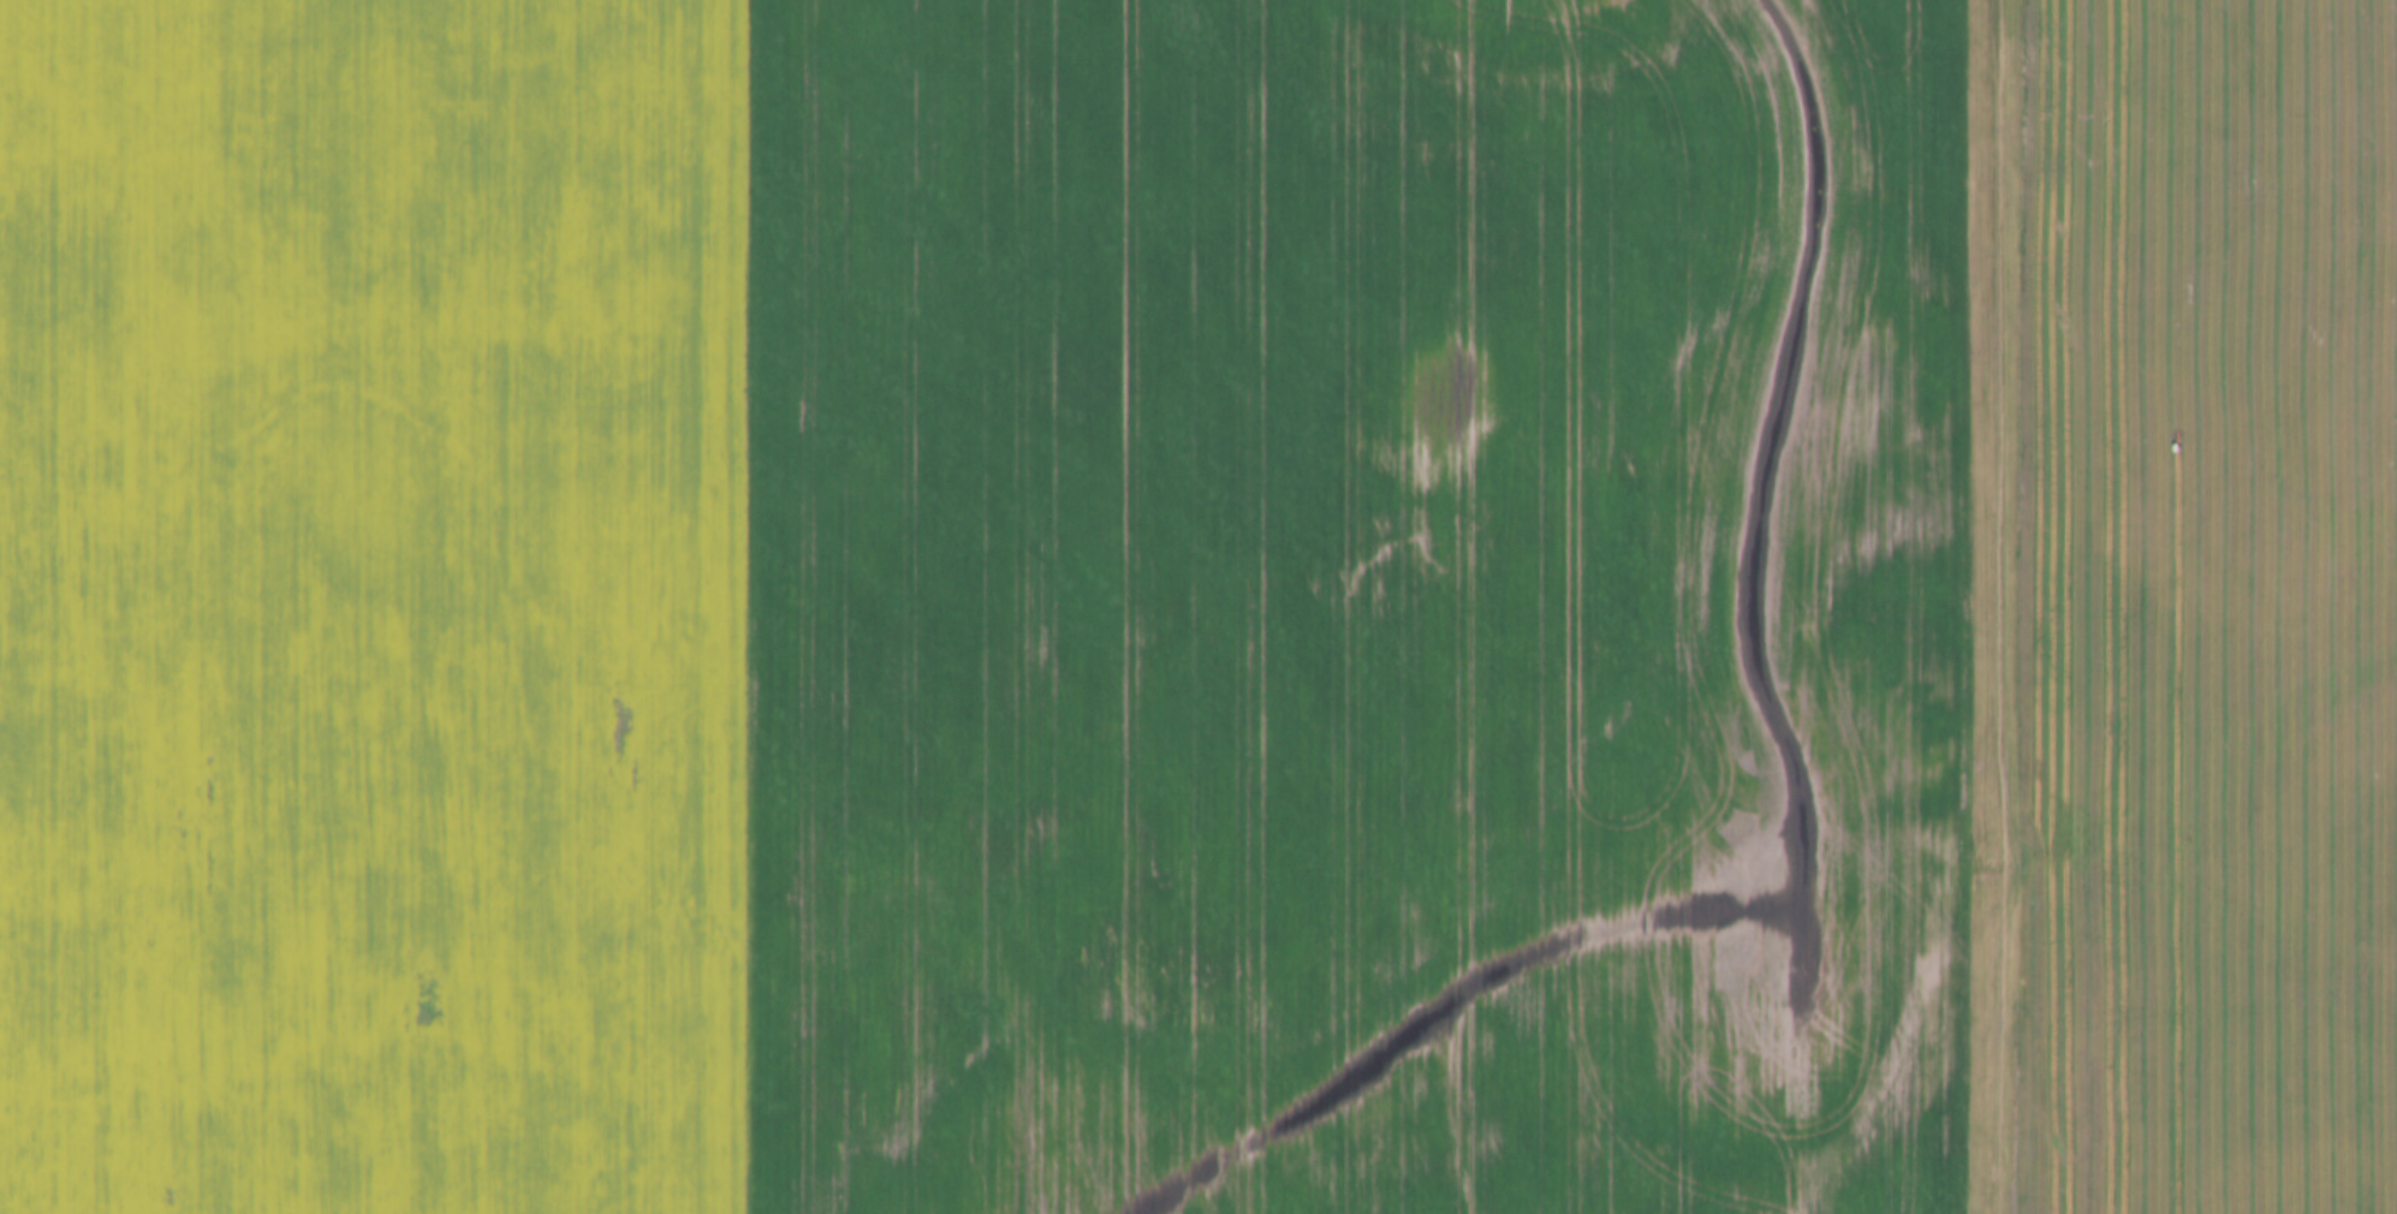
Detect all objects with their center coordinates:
road: (1991, 606)

